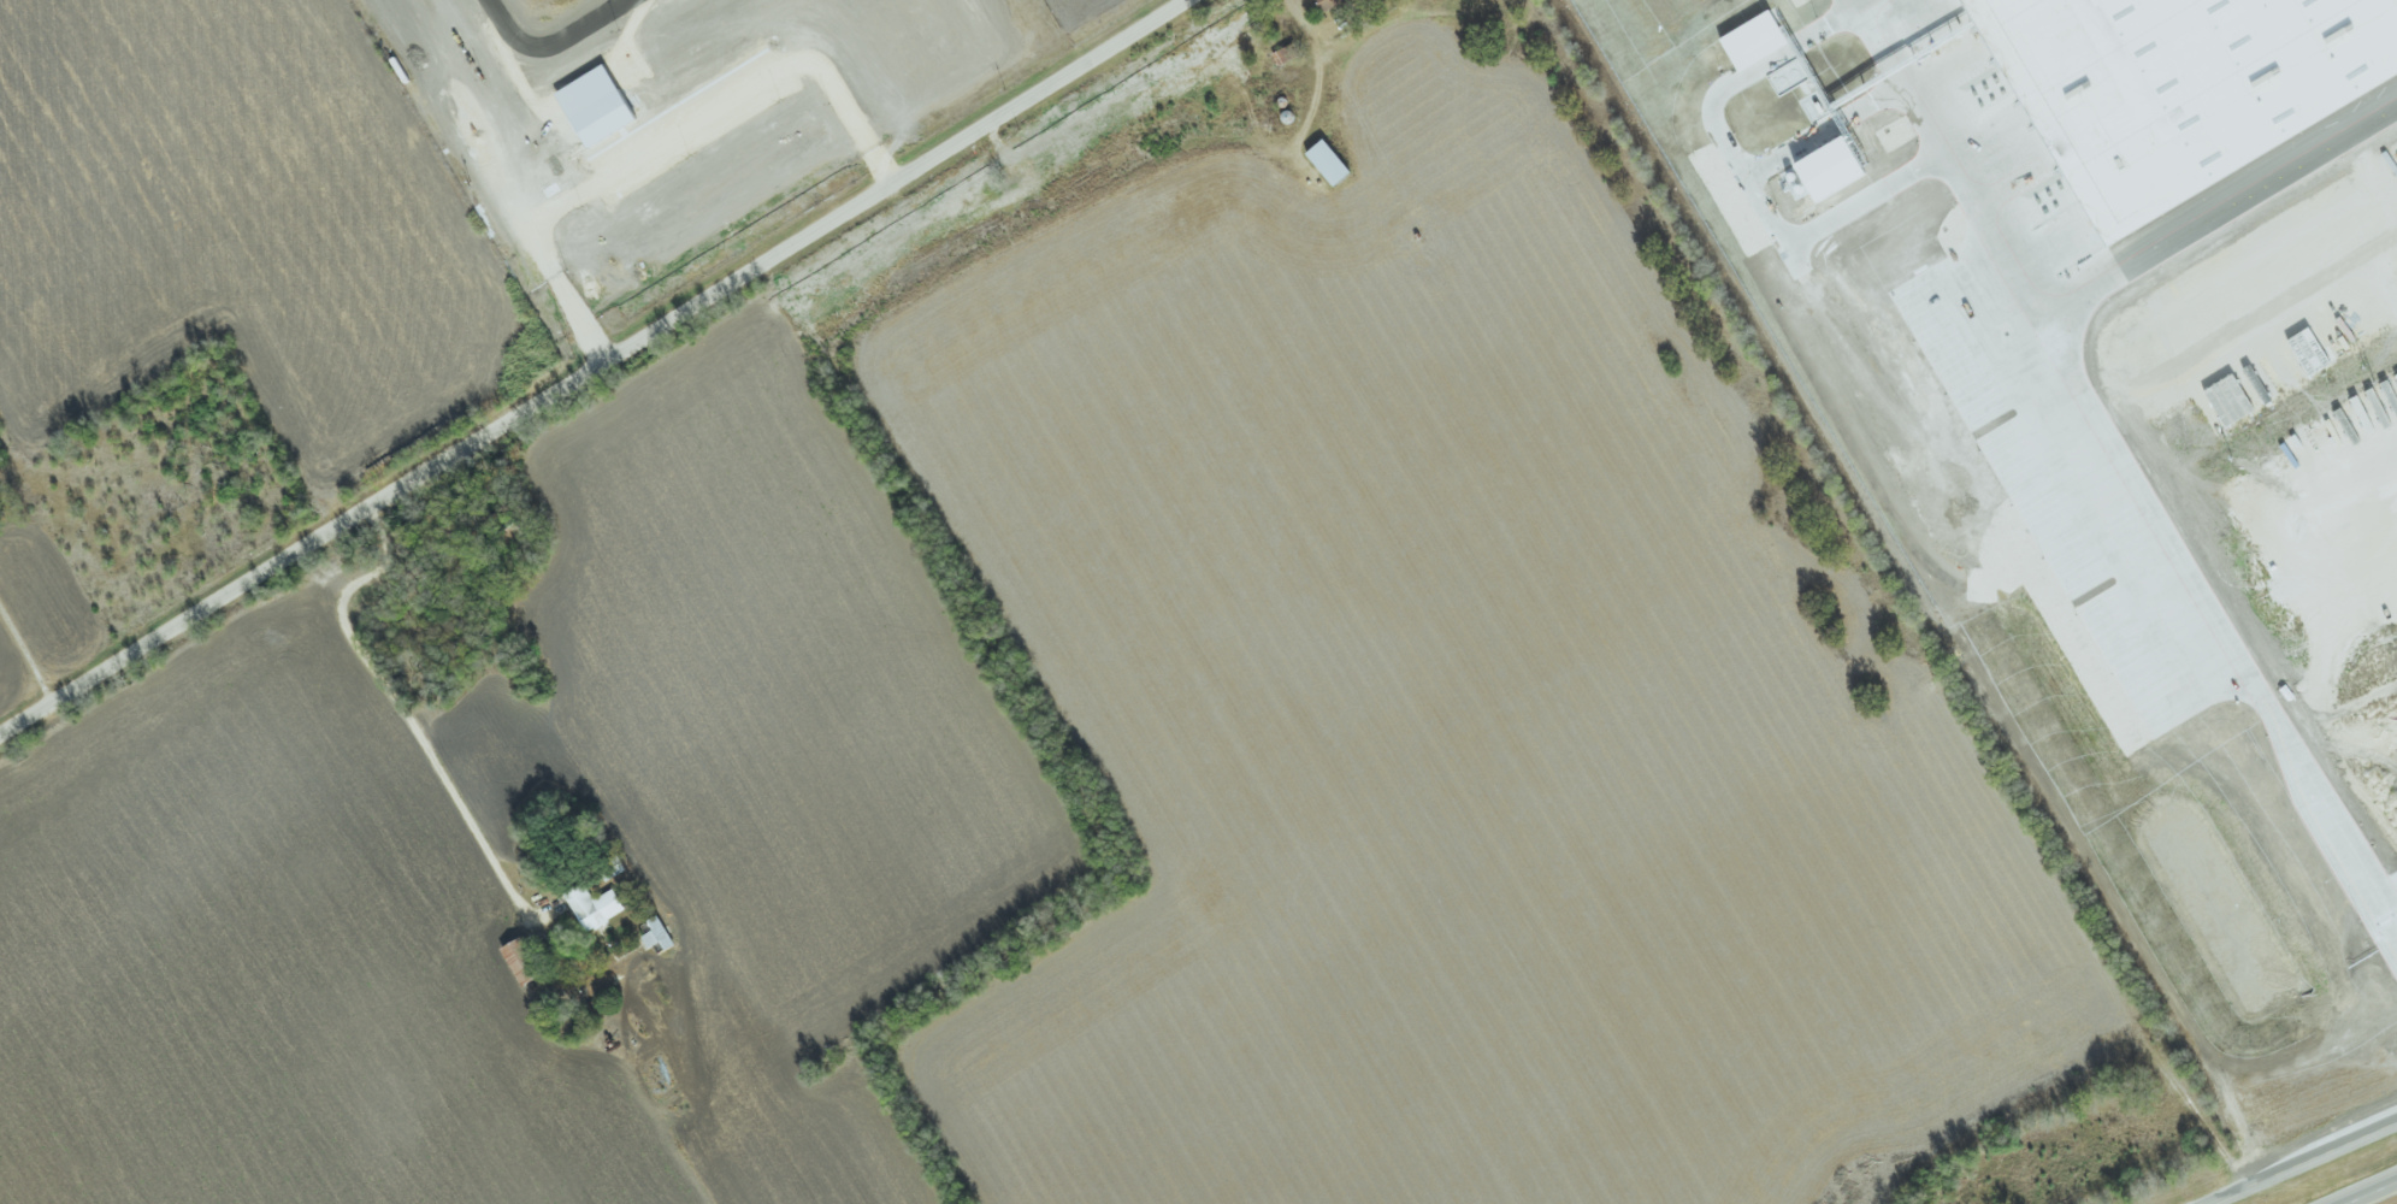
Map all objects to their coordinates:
road: (590, 366)
road: (2162, 519)
road: (25, 655)
road: (398, 706)
building: (597, 907)
road: (2306, 1164)
road: (2375, 1194)

